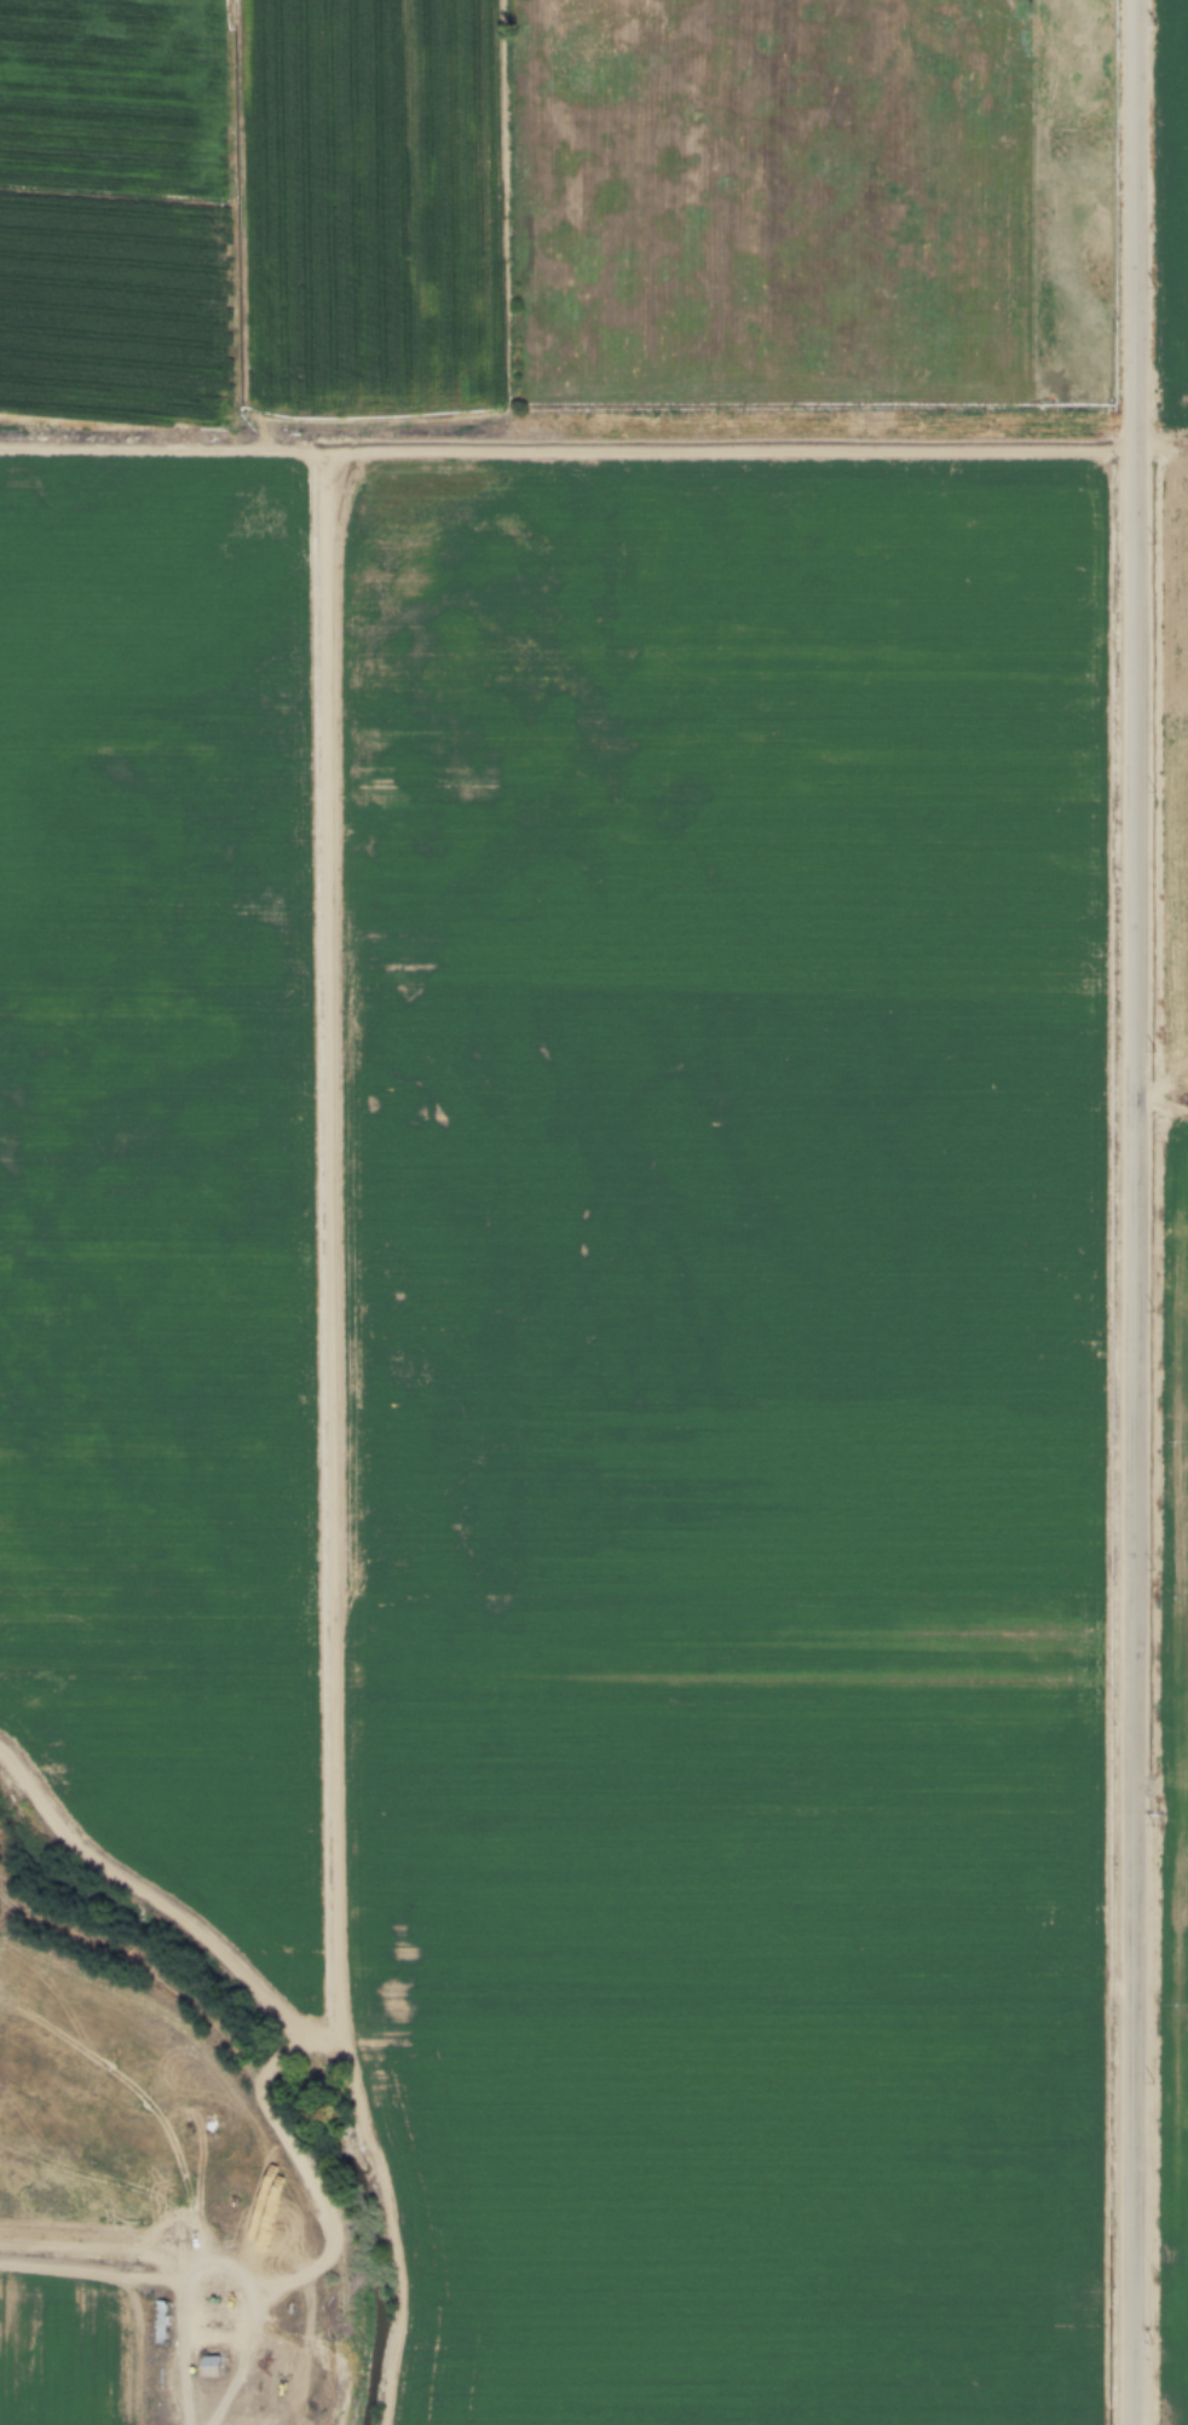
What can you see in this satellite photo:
road: (1164, 432)
road: (1163, 1095)
road: (1135, 1211)
building: (92, 2135)
building: (160, 2320)
building: (208, 2364)
building: (256, 2415)

